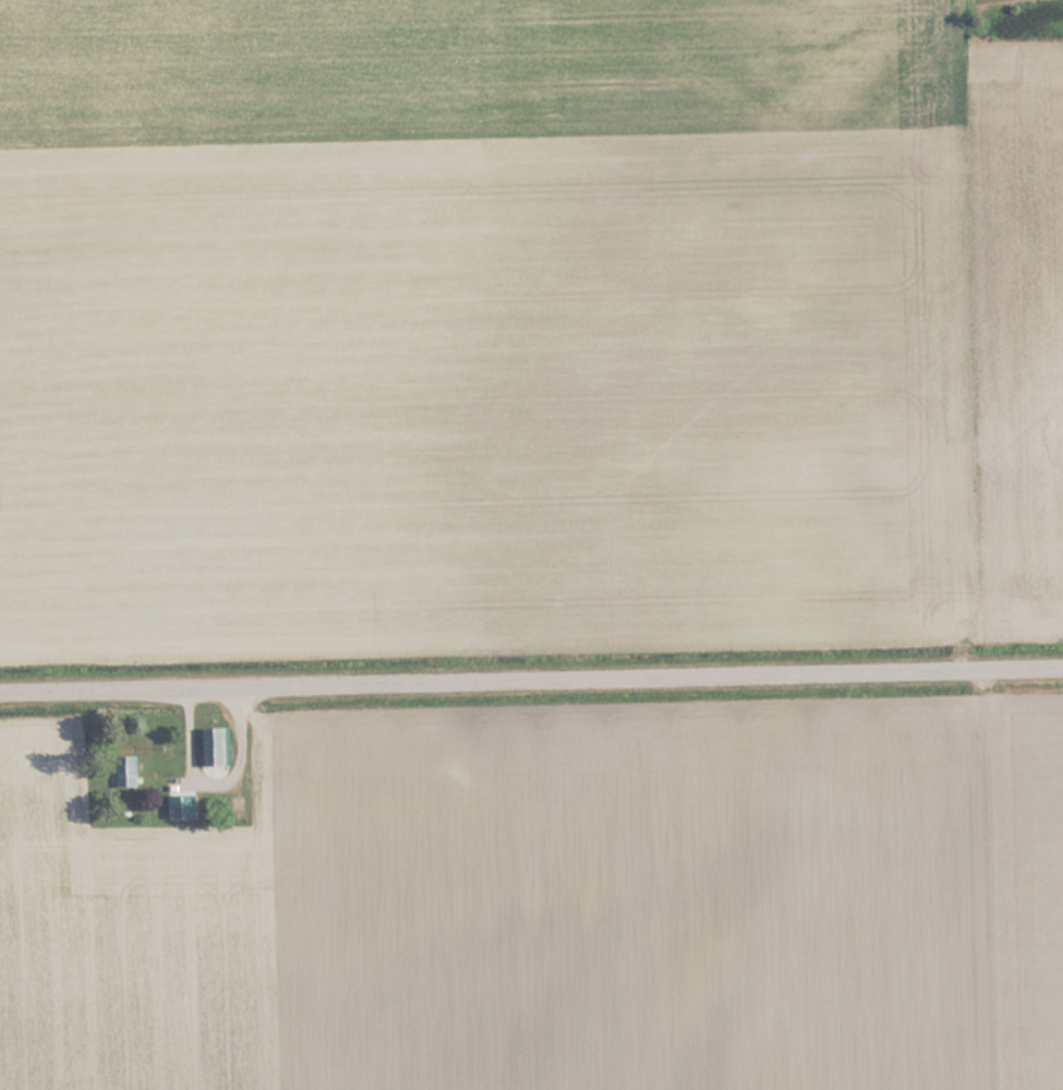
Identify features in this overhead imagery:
road: (531, 678)
building: (218, 745)
building: (129, 770)
building: (189, 805)

